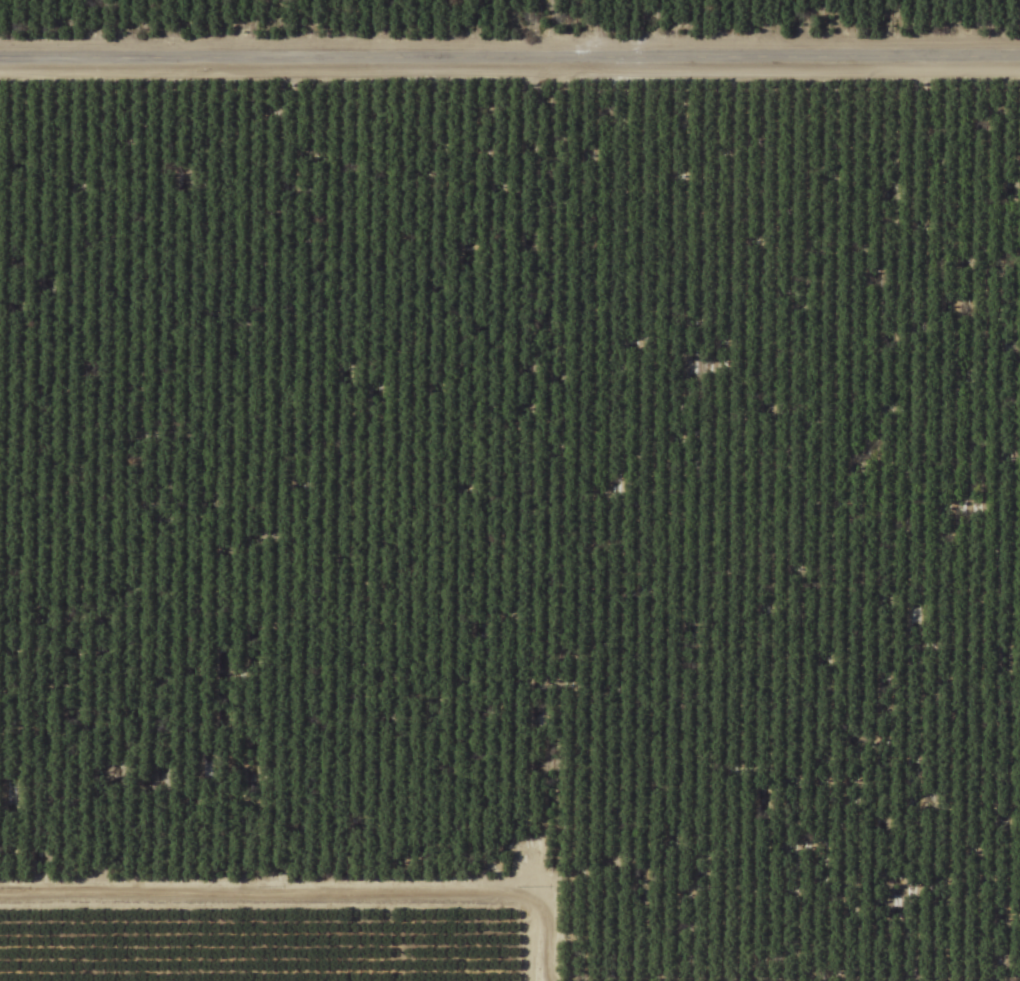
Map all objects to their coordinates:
road: (510, 59)
crop: (510, 490)

